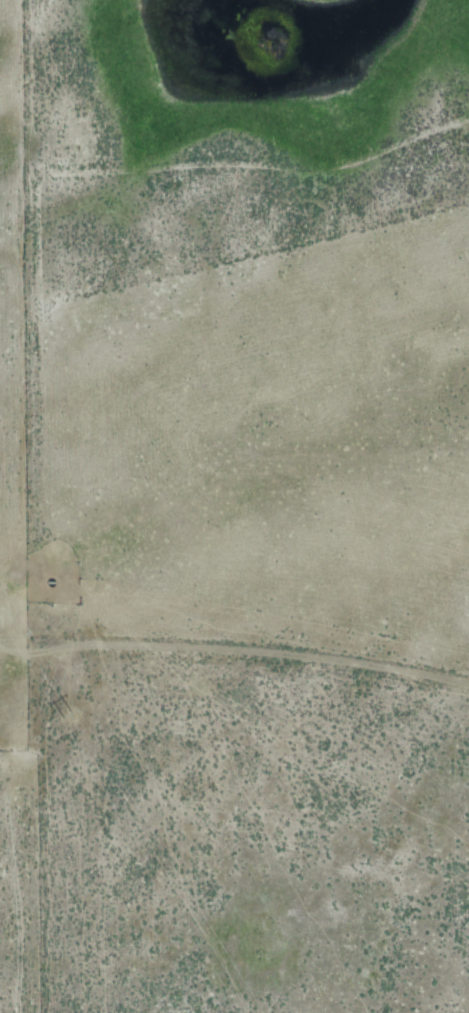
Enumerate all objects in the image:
road: (234, 721)
power tower: (62, 725)

